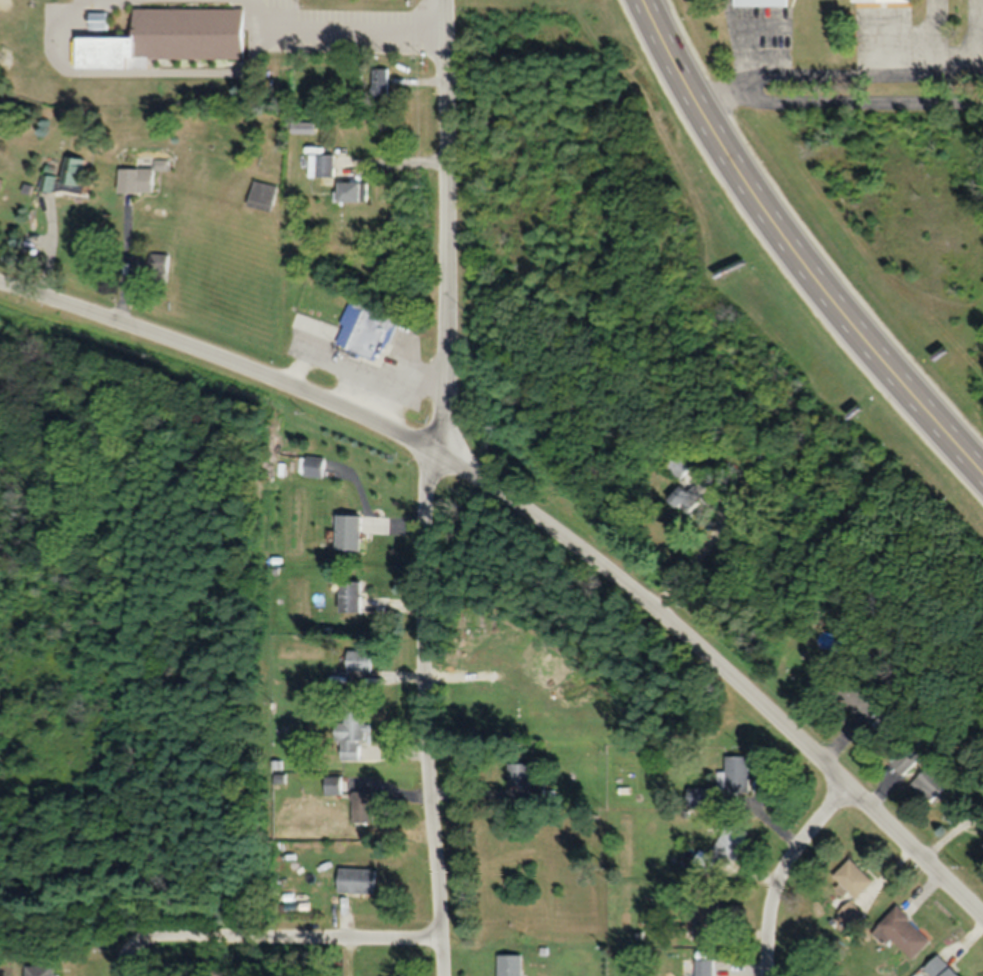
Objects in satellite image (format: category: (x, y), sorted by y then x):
building: (884, 1)
building: (763, 3)
road: (256, 9)
building: (98, 21)
road: (355, 28)
building: (169, 40)
road: (967, 58)
road: (136, 75)
building: (380, 82)
road: (700, 99)
building: (324, 165)
building: (73, 174)
building: (137, 181)
building: (47, 183)
building: (355, 192)
building: (264, 196)
road: (793, 248)
building: (159, 265)
road: (124, 266)
building: (364, 332)
building: (314, 467)
building: (680, 467)
road: (432, 488)
building: (687, 498)
road: (540, 529)
building: (350, 532)
road: (706, 549)
building: (351, 596)
building: (359, 661)
building: (856, 699)
building: (352, 734)
building: (735, 775)
building: (525, 780)
building: (329, 784)
building: (929, 784)
building: (698, 797)
building: (363, 806)
building: (730, 843)
road: (785, 874)
building: (357, 882)
building: (852, 890)
building: (707, 919)
building: (905, 934)
road: (273, 942)
building: (511, 965)
building: (704, 967)
building: (940, 968)
building: (43, 970)

